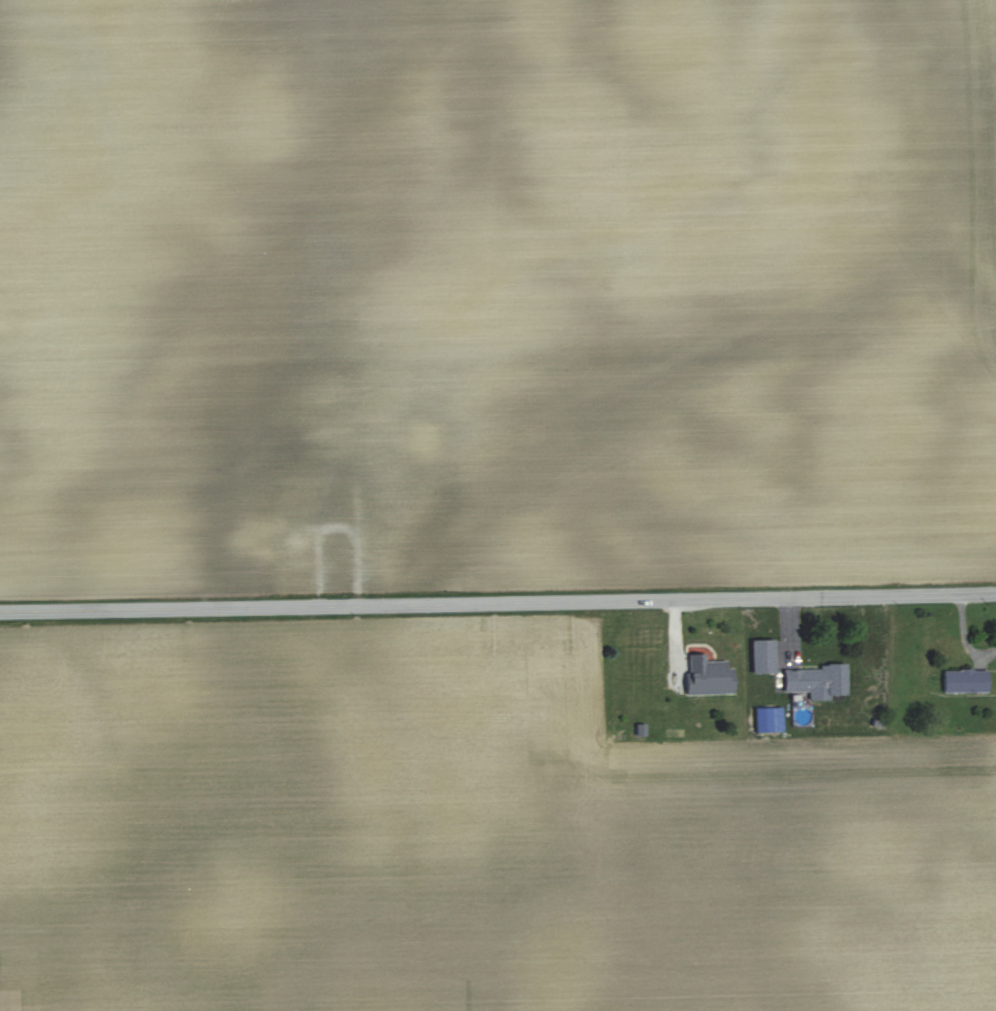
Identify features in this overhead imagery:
road: (498, 601)
building: (760, 656)
building: (962, 679)
building: (813, 680)
building: (698, 683)

